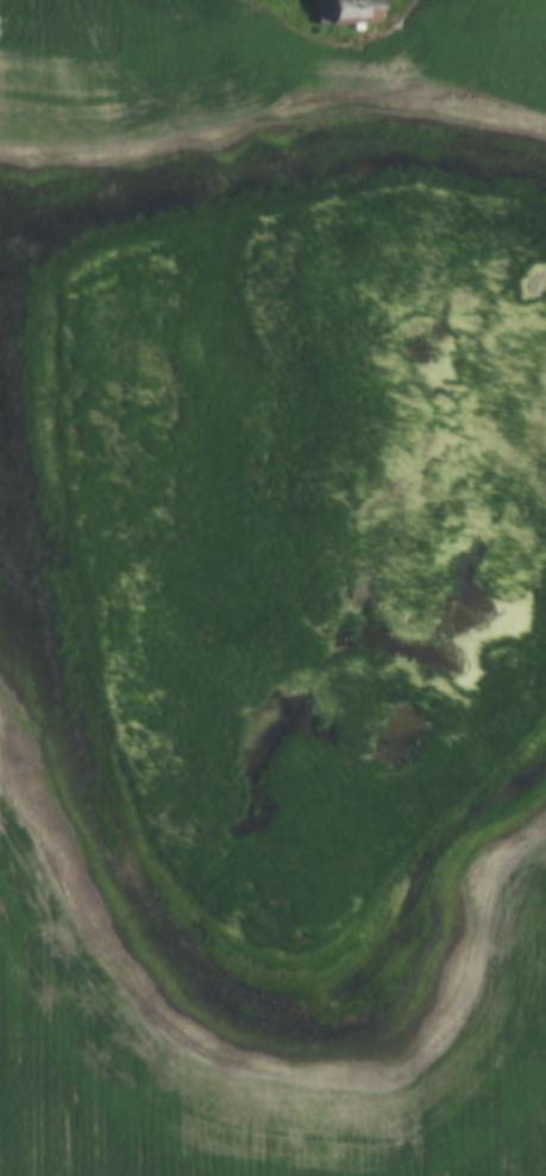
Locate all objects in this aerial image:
building: (344, 11)

